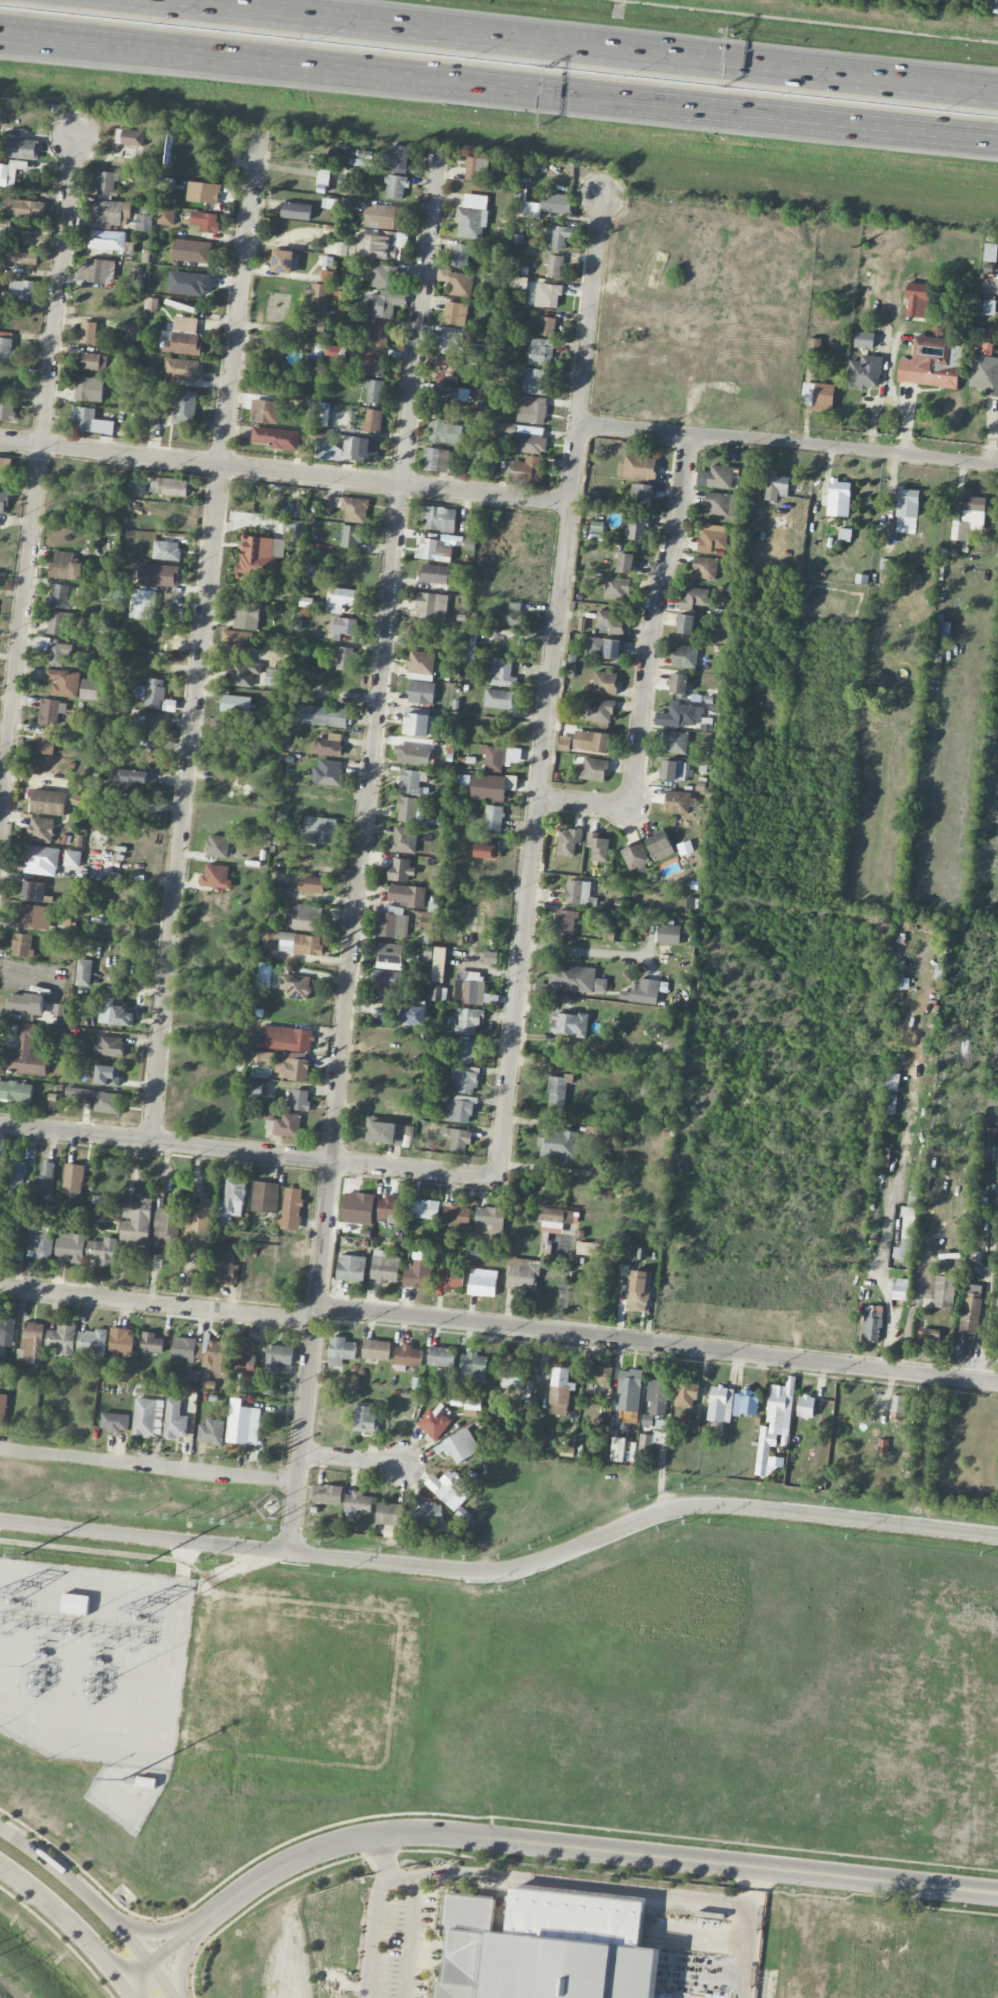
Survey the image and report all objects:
building: (995, 6)
road: (562, 49)
road: (493, 81)
road: (992, 136)
road: (992, 136)
building: (129, 137)
building: (22, 149)
building: (399, 159)
building: (476, 167)
building: (10, 172)
building: (323, 177)
building: (106, 183)
building: (396, 186)
building: (203, 192)
building: (557, 203)
building: (24, 208)
building: (529, 209)
building: (296, 211)
building: (107, 215)
building: (166, 216)
building: (383, 216)
building: (471, 217)
building: (205, 221)
building: (144, 223)
building: (558, 236)
building: (109, 240)
building: (361, 244)
building: (384, 245)
building: (346, 249)
building: (191, 251)
building: (990, 252)
building: (461, 255)
building: (22, 258)
building: (285, 261)
building: (554, 266)
building: (96, 271)
building: (382, 276)
building: (457, 282)
building: (21, 289)
building: (548, 295)
building: (916, 300)
building: (317, 303)
building: (385, 303)
building: (455, 314)
building: (185, 324)
building: (547, 326)
building: (88, 332)
building: (132, 332)
building: (374, 333)
building: (864, 340)
building: (451, 342)
building: (184, 344)
building: (332, 351)
building: (478, 351)
building: (541, 351)
building: (92, 361)
building: (931, 363)
building: (372, 364)
building: (182, 368)
building: (447, 372)
building: (865, 372)
building: (984, 374)
building: (536, 381)
building: (89, 389)
building: (373, 390)
building: (818, 396)
building: (448, 398)
building: (185, 407)
building: (480, 407)
building: (7, 409)
building: (532, 409)
building: (265, 411)
building: (90, 421)
building: (372, 421)
building: (509, 428)
building: (444, 432)
building: (276, 438)
building: (530, 443)
road: (788, 443)
building: (348, 449)
building: (436, 459)
building: (638, 467)
building: (6, 470)
building: (527, 470)
road: (284, 472)
road: (35, 475)
building: (720, 476)
building: (169, 486)
building: (776, 486)
building: (641, 493)
building: (593, 497)
building: (838, 498)
building: (3, 501)
building: (907, 502)
building: (718, 504)
building: (355, 509)
building: (969, 518)
building: (439, 519)
building: (597, 526)
building: (294, 528)
building: (637, 528)
building: (352, 536)
building: (712, 538)
building: (166, 550)
building: (432, 550)
building: (259, 556)
building: (625, 563)
building: (68, 566)
building: (704, 568)
building: (885, 569)
building: (310, 572)
building: (434, 574)
building: (158, 575)
building: (616, 588)
building: (105, 593)
building: (59, 596)
building: (693, 597)
building: (340, 599)
building: (142, 604)
building: (431, 606)
building: (507, 614)
building: (246, 615)
building: (610, 620)
road: (652, 621)
building: (57, 622)
building: (685, 624)
building: (345, 626)
building: (944, 631)
road: (200, 637)
building: (237, 639)
building: (470, 645)
building: (603, 648)
building: (54, 650)
building: (685, 656)
building: (344, 658)
building: (420, 665)
building: (242, 673)
building: (501, 674)
building: (273, 678)
building: (63, 682)
building: (605, 683)
building: (678, 683)
road: (549, 687)
building: (90, 689)
building: (421, 692)
building: (151, 693)
building: (499, 699)
building: (236, 704)
building: (51, 711)
building: (600, 712)
building: (680, 715)
building: (325, 716)
building: (420, 722)
building: (496, 729)
building: (591, 741)
building: (675, 742)
building: (564, 743)
building: (45, 744)
building: (328, 745)
building: (412, 755)
building: (499, 757)
building: (592, 769)
building: (674, 770)
building: (328, 773)
building: (131, 781)
building: (410, 782)
building: (491, 787)
building: (48, 802)
building: (678, 802)
road: (583, 805)
building: (410, 809)
building: (493, 818)
building: (41, 829)
building: (320, 830)
building: (403, 840)
building: (568, 841)
building: (217, 845)
building: (659, 846)
building: (597, 847)
building: (685, 848)
road: (362, 850)
building: (486, 851)
building: (634, 856)
building: (72, 858)
building: (41, 860)
building: (401, 869)
building: (216, 877)
building: (311, 885)
building: (32, 891)
building: (577, 892)
building: (408, 895)
building: (34, 917)
building: (305, 918)
building: (566, 921)
building: (393, 922)
building: (668, 934)
building: (292, 942)
building: (22, 945)
road: (597, 953)
building: (390, 956)
building: (439, 964)
building: (264, 971)
building: (83, 972)
building: (576, 979)
building: (901, 982)
building: (388, 983)
building: (296, 986)
building: (471, 988)
building: (437, 992)
building: (642, 992)
building: (24, 1005)
building: (58, 1011)
building: (114, 1014)
building: (414, 1017)
building: (468, 1020)
building: (569, 1024)
building: (286, 1038)
building: (109, 1046)
building: (464, 1051)
building: (25, 1054)
building: (258, 1057)
building: (292, 1067)
building: (107, 1075)
building: (465, 1079)
building: (891, 1081)
building: (256, 1089)
building: (15, 1091)
building: (557, 1091)
building: (79, 1092)
building: (300, 1100)
building: (107, 1102)
building: (460, 1109)
building: (269, 1120)
building: (287, 1125)
building: (385, 1132)
building: (458, 1139)
building: (609, 1139)
building: (987, 1144)
building: (559, 1145)
road: (247, 1153)
building: (884, 1156)
building: (18, 1174)
building: (73, 1179)
building: (44, 1181)
building: (234, 1194)
building: (265, 1197)
building: (291, 1208)
building: (358, 1208)
building: (424, 1208)
building: (390, 1210)
building: (455, 1214)
building: (489, 1217)
building: (555, 1217)
building: (136, 1220)
building: (169, 1225)
building: (200, 1229)
building: (906, 1236)
building: (40, 1242)
building: (69, 1247)
building: (4, 1248)
building: (588, 1248)
building: (103, 1252)
building: (384, 1267)
building: (351, 1268)
building: (224, 1270)
building: (418, 1270)
building: (522, 1274)
building: (449, 1278)
building: (482, 1282)
building: (900, 1289)
building: (943, 1292)
road: (157, 1304)
building: (970, 1313)
building: (7, 1330)
building: (929, 1338)
building: (61, 1339)
building: (121, 1341)
building: (31, 1343)
building: (92, 1343)
building: (151, 1343)
road: (657, 1343)
building: (187, 1349)
building: (376, 1349)
building: (341, 1350)
building: (218, 1356)
building: (408, 1356)
building: (278, 1357)
building: (441, 1357)
building: (246, 1360)
building: (473, 1368)
building: (600, 1376)
building: (512, 1377)
building: (207, 1385)
building: (629, 1390)
building: (560, 1391)
building: (685, 1395)
building: (657, 1397)
building: (746, 1403)
building: (897, 1403)
building: (720, 1404)
building: (805, 1406)
building: (2, 1407)
building: (145, 1416)
building: (365, 1417)
building: (174, 1420)
building: (435, 1421)
building: (114, 1422)
building: (242, 1423)
building: (774, 1426)
building: (211, 1431)
building: (645, 1441)
building: (459, 1446)
building: (618, 1449)
road: (352, 1460)
road: (149, 1466)
building: (449, 1489)
building: (327, 1494)
building: (358, 1503)
building: (426, 1514)
building: (390, 1515)
power tower: (23, 1554)
power tower: (145, 1563)
road: (504, 1571)
building: (76, 1604)
power substation: (95, 1673)
building: (146, 1782)
road: (538, 1843)
road: (382, 1858)
road: (616, 1886)
road: (96, 1903)
road: (70, 1928)
road: (155, 1931)
road: (372, 1935)
road: (414, 1936)
building: (546, 1947)
road: (181, 1960)

